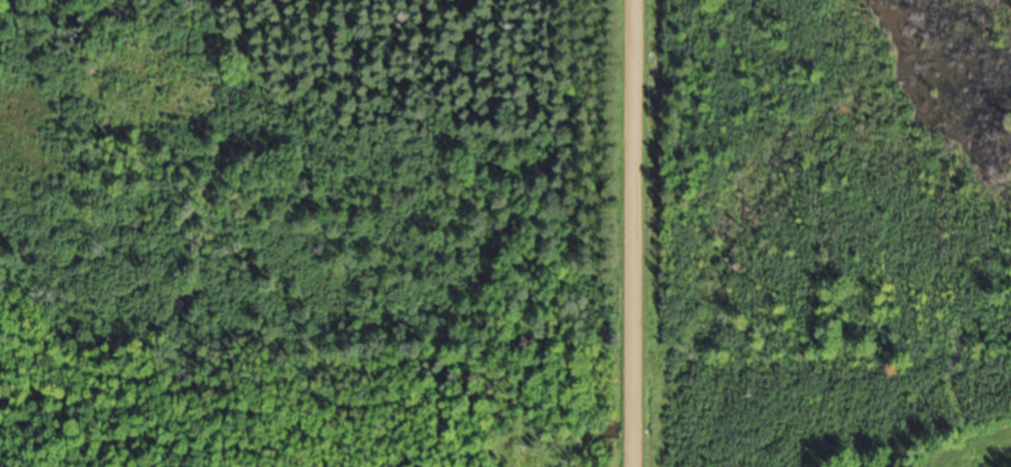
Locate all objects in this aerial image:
road: (634, 233)

